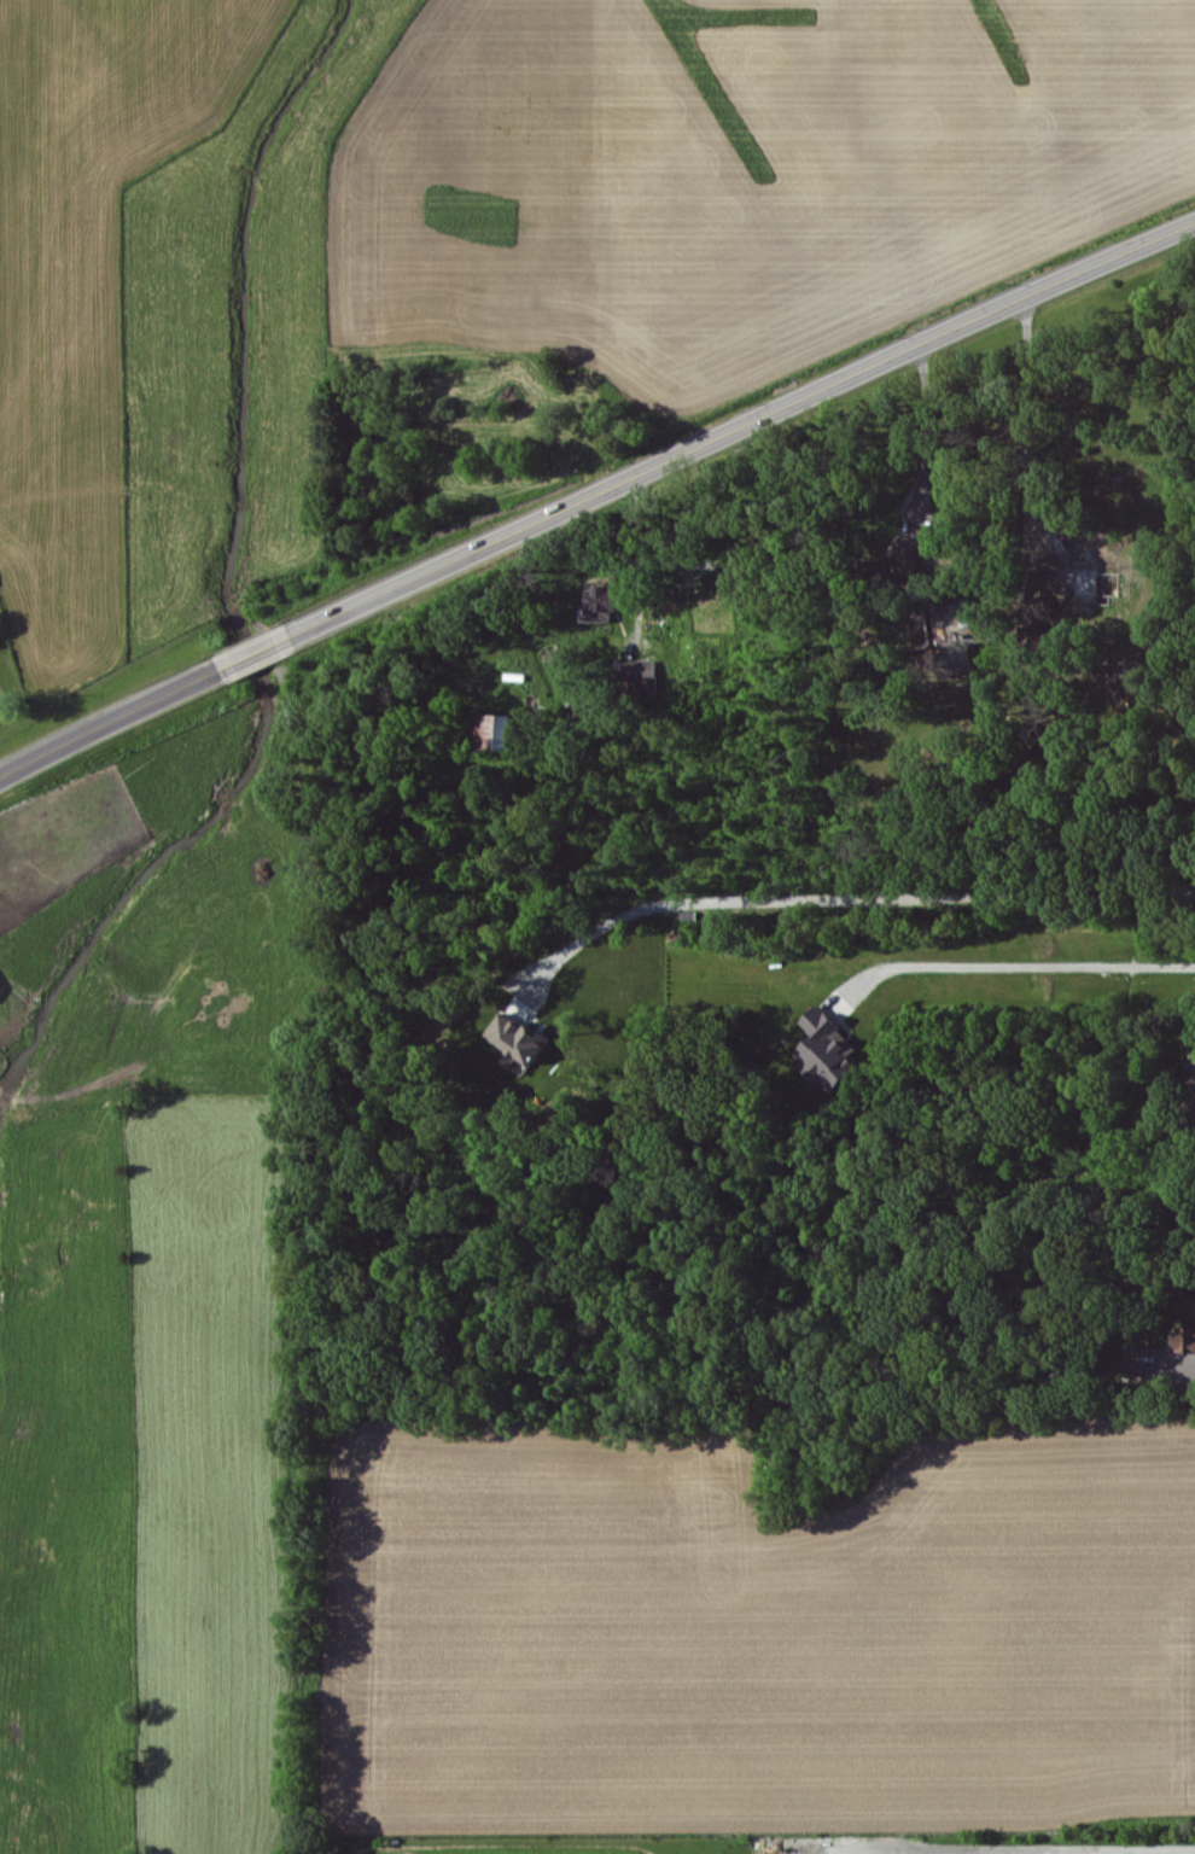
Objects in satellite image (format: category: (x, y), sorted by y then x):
road: (926, 431)
road: (1025, 445)
road: (595, 495)
building: (905, 566)
building: (607, 605)
building: (648, 678)
building: (500, 736)
road: (862, 900)
road: (1012, 966)
building: (1, 993)
building: (524, 1043)
building: (833, 1055)
building: (1194, 1085)
building: (1190, 1341)
road: (1067, 1849)

